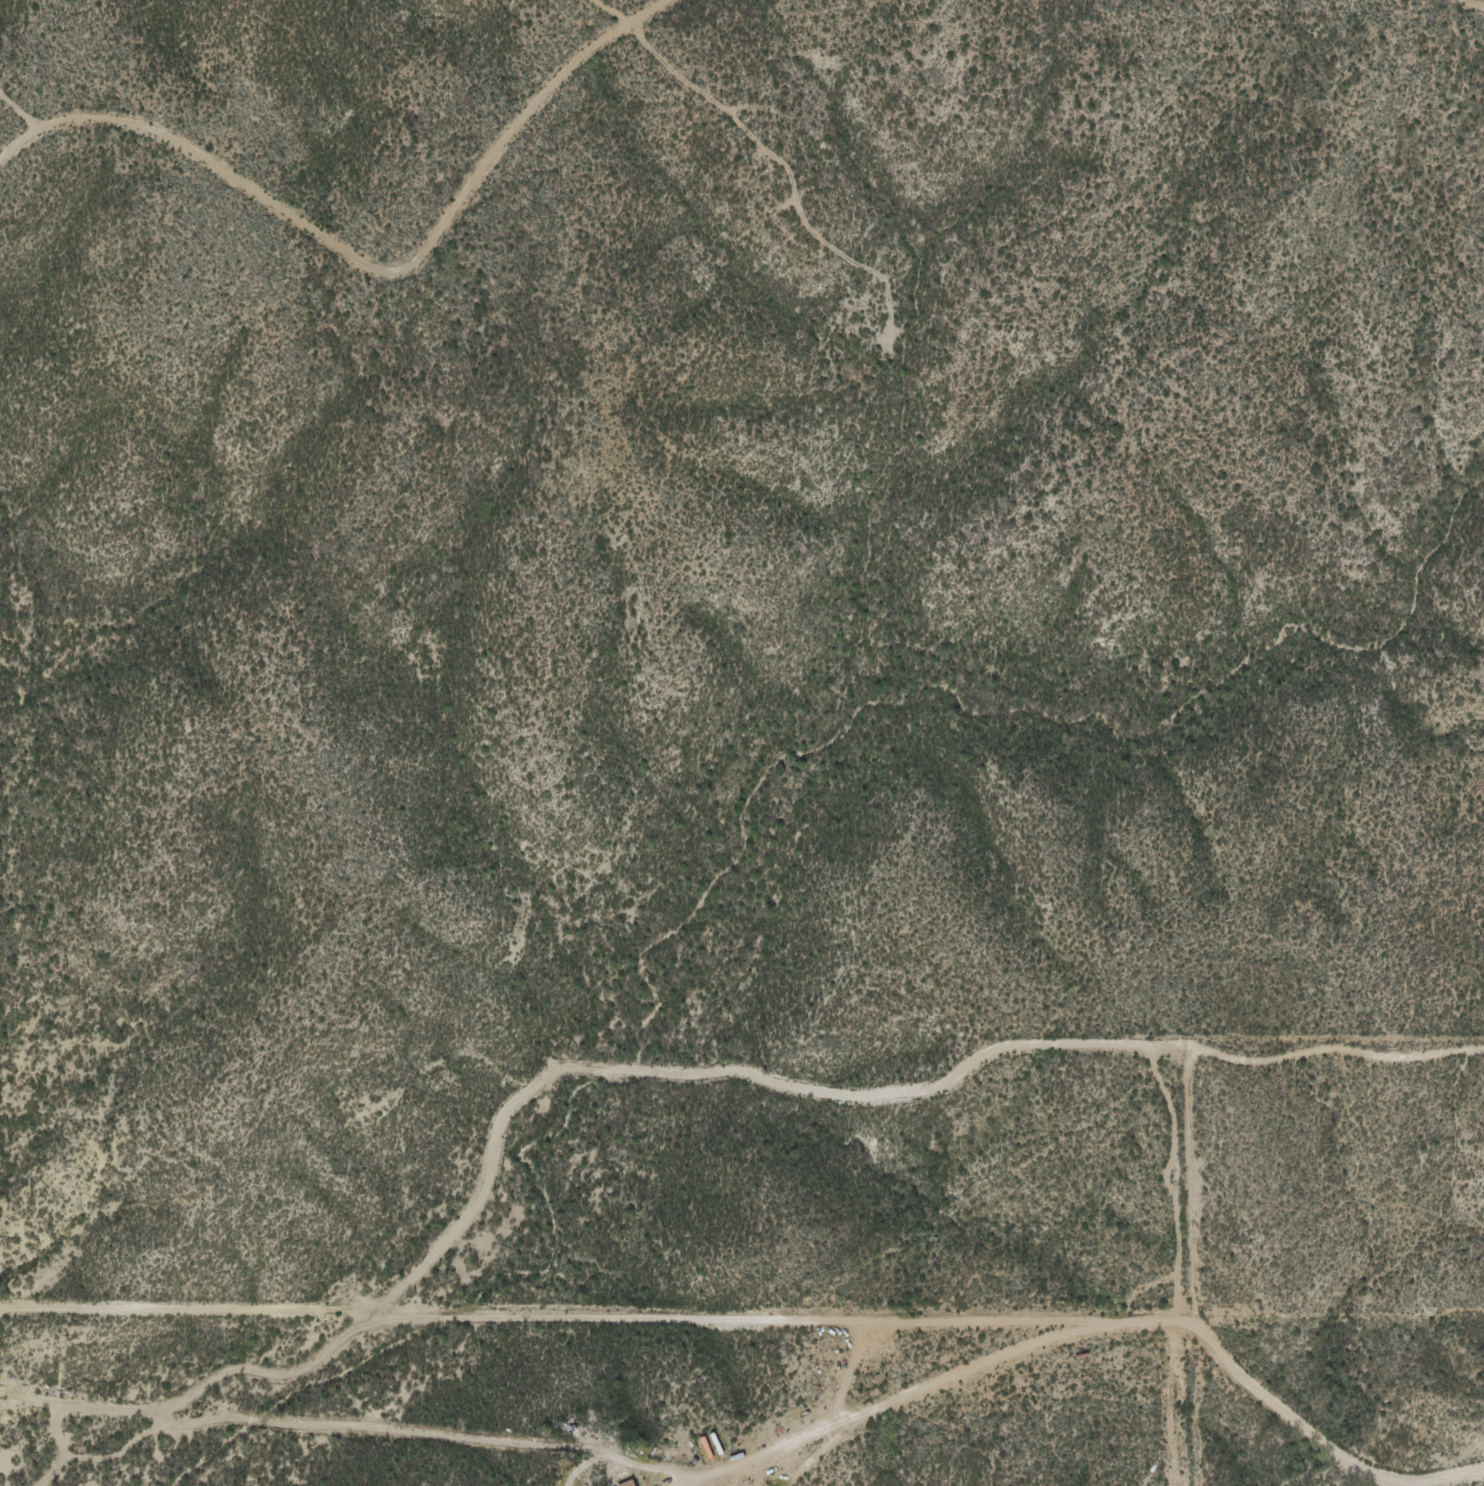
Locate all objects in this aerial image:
road: (1483, 0)
road: (368, 264)
road: (947, 1116)
road: (1144, 1339)
building: (628, 1482)

